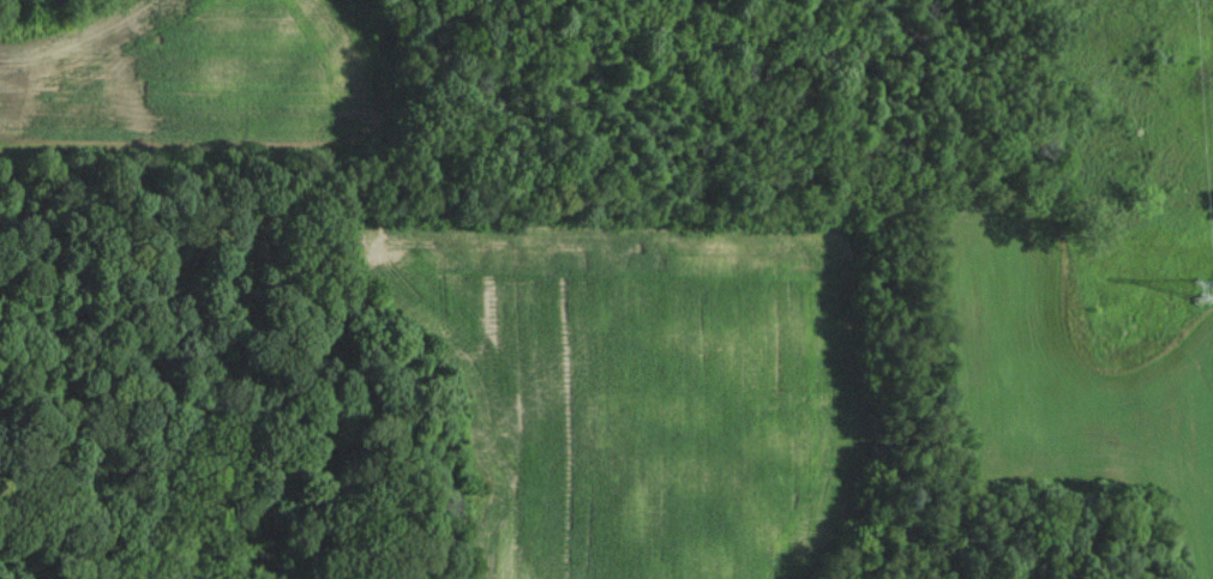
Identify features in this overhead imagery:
power tower: (1200, 285)

